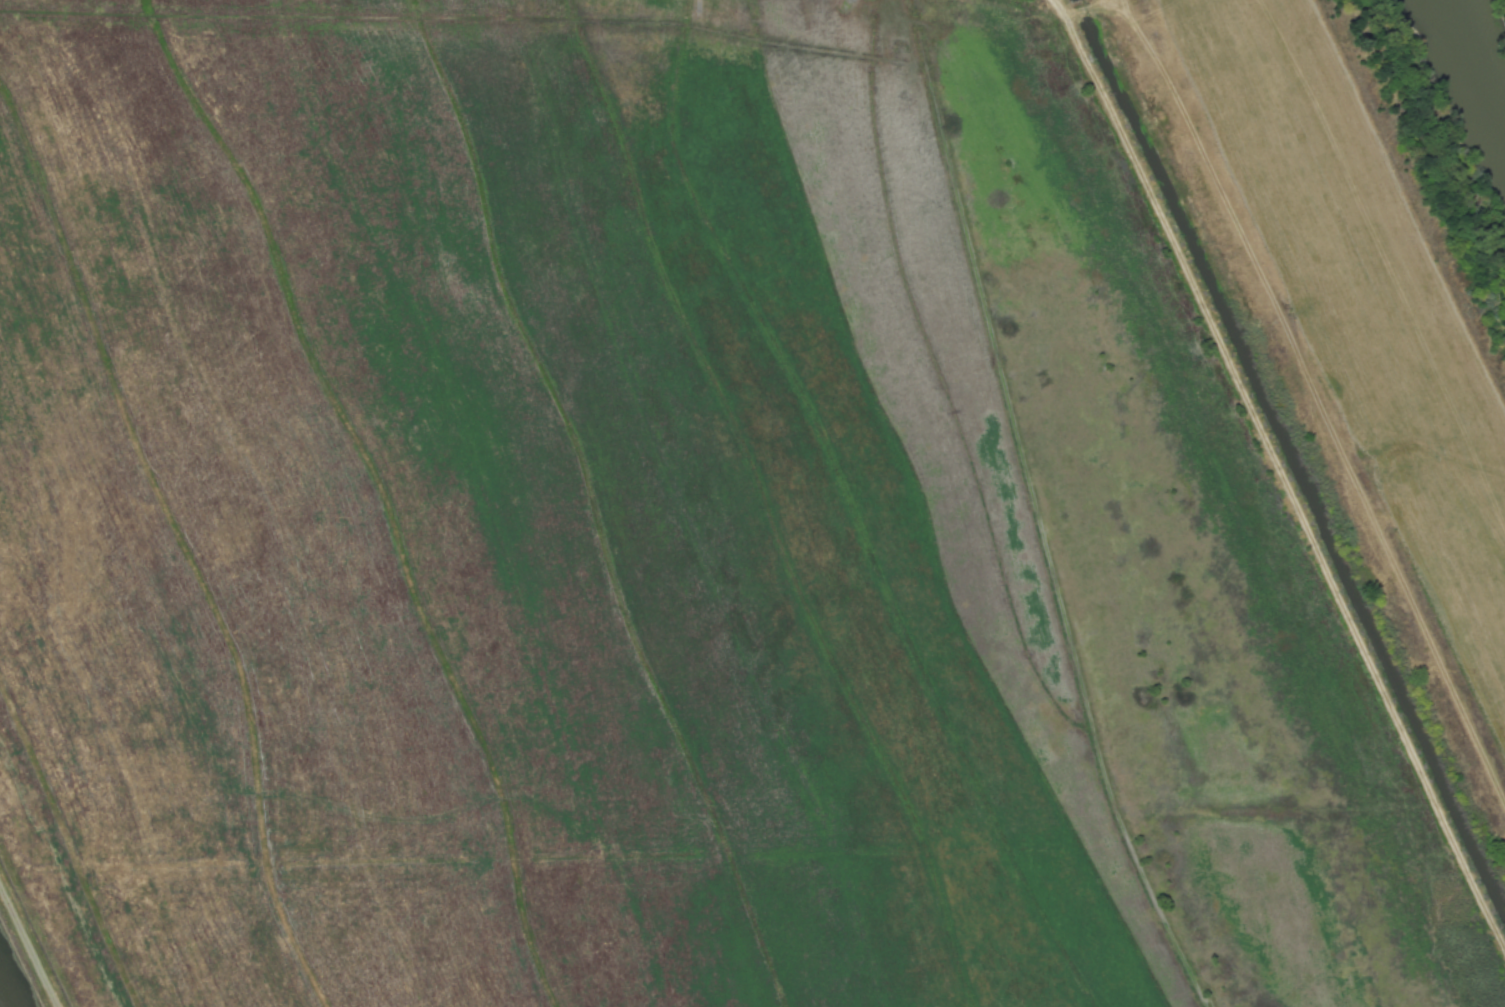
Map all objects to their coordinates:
crop: (1350, 345)
crop: (509, 529)

